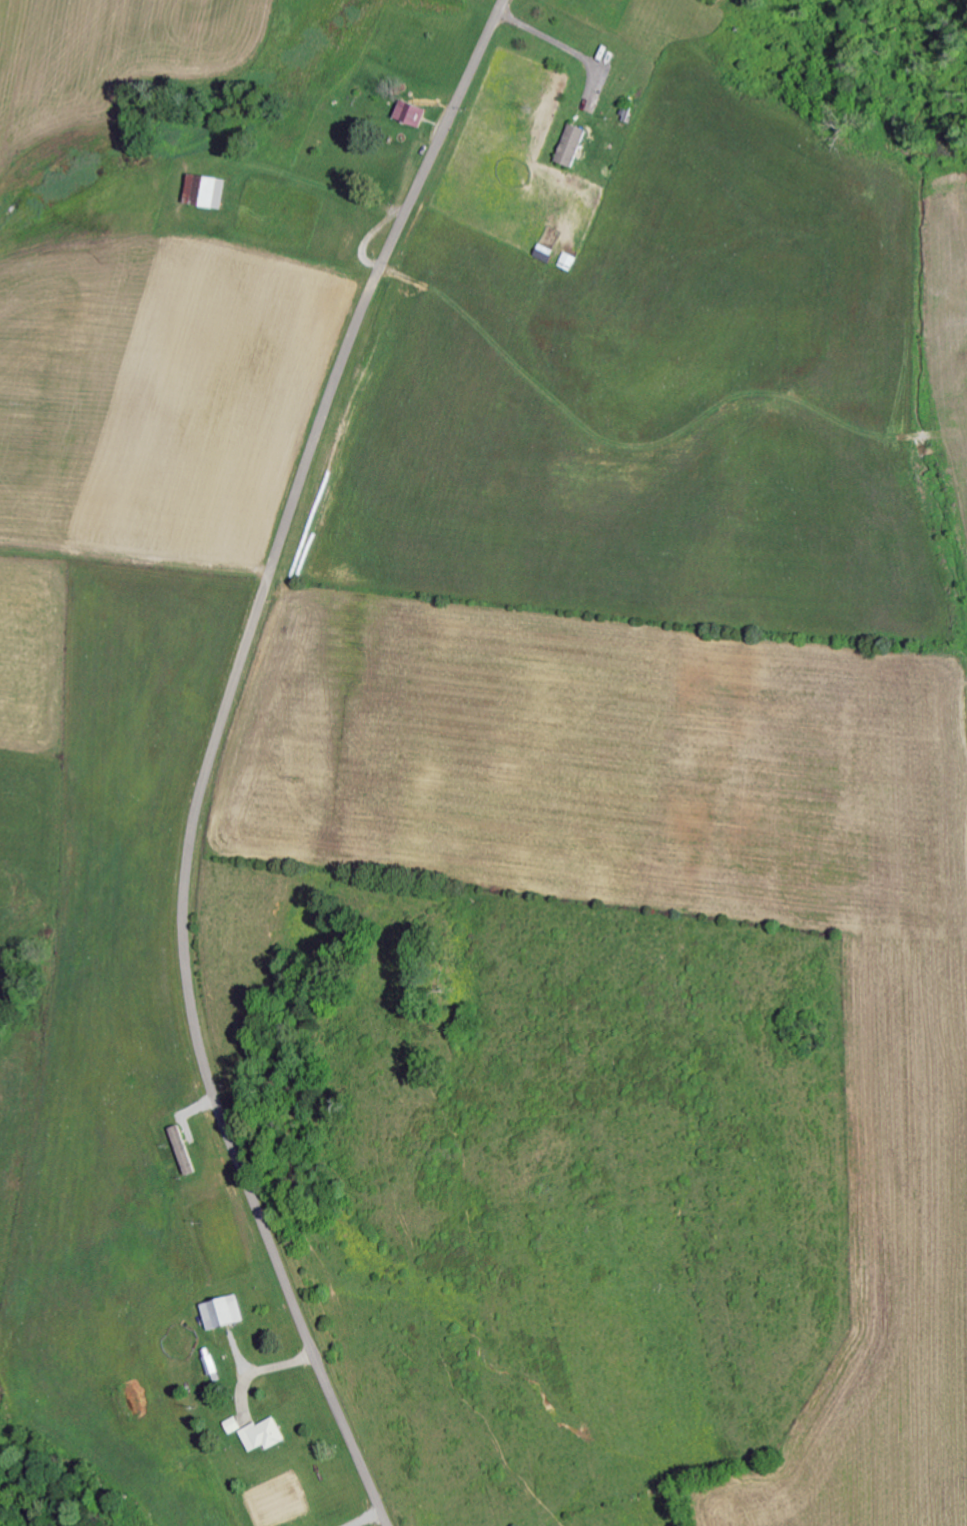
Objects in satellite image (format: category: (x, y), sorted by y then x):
building: (410, 112)
building: (573, 144)
building: (207, 190)
road: (211, 755)
building: (185, 1150)
building: (226, 1313)
building: (266, 1435)

